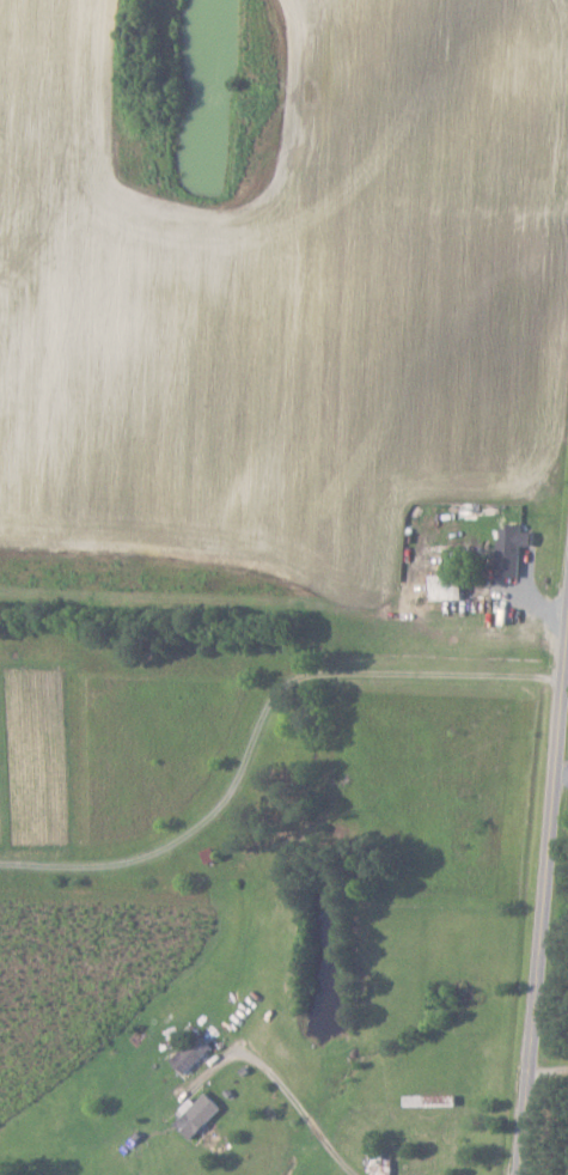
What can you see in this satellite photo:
building: (514, 559)
building: (452, 585)
road: (262, 717)
road: (548, 943)
building: (195, 1052)
road: (551, 1070)
road: (306, 1108)
building: (201, 1114)

